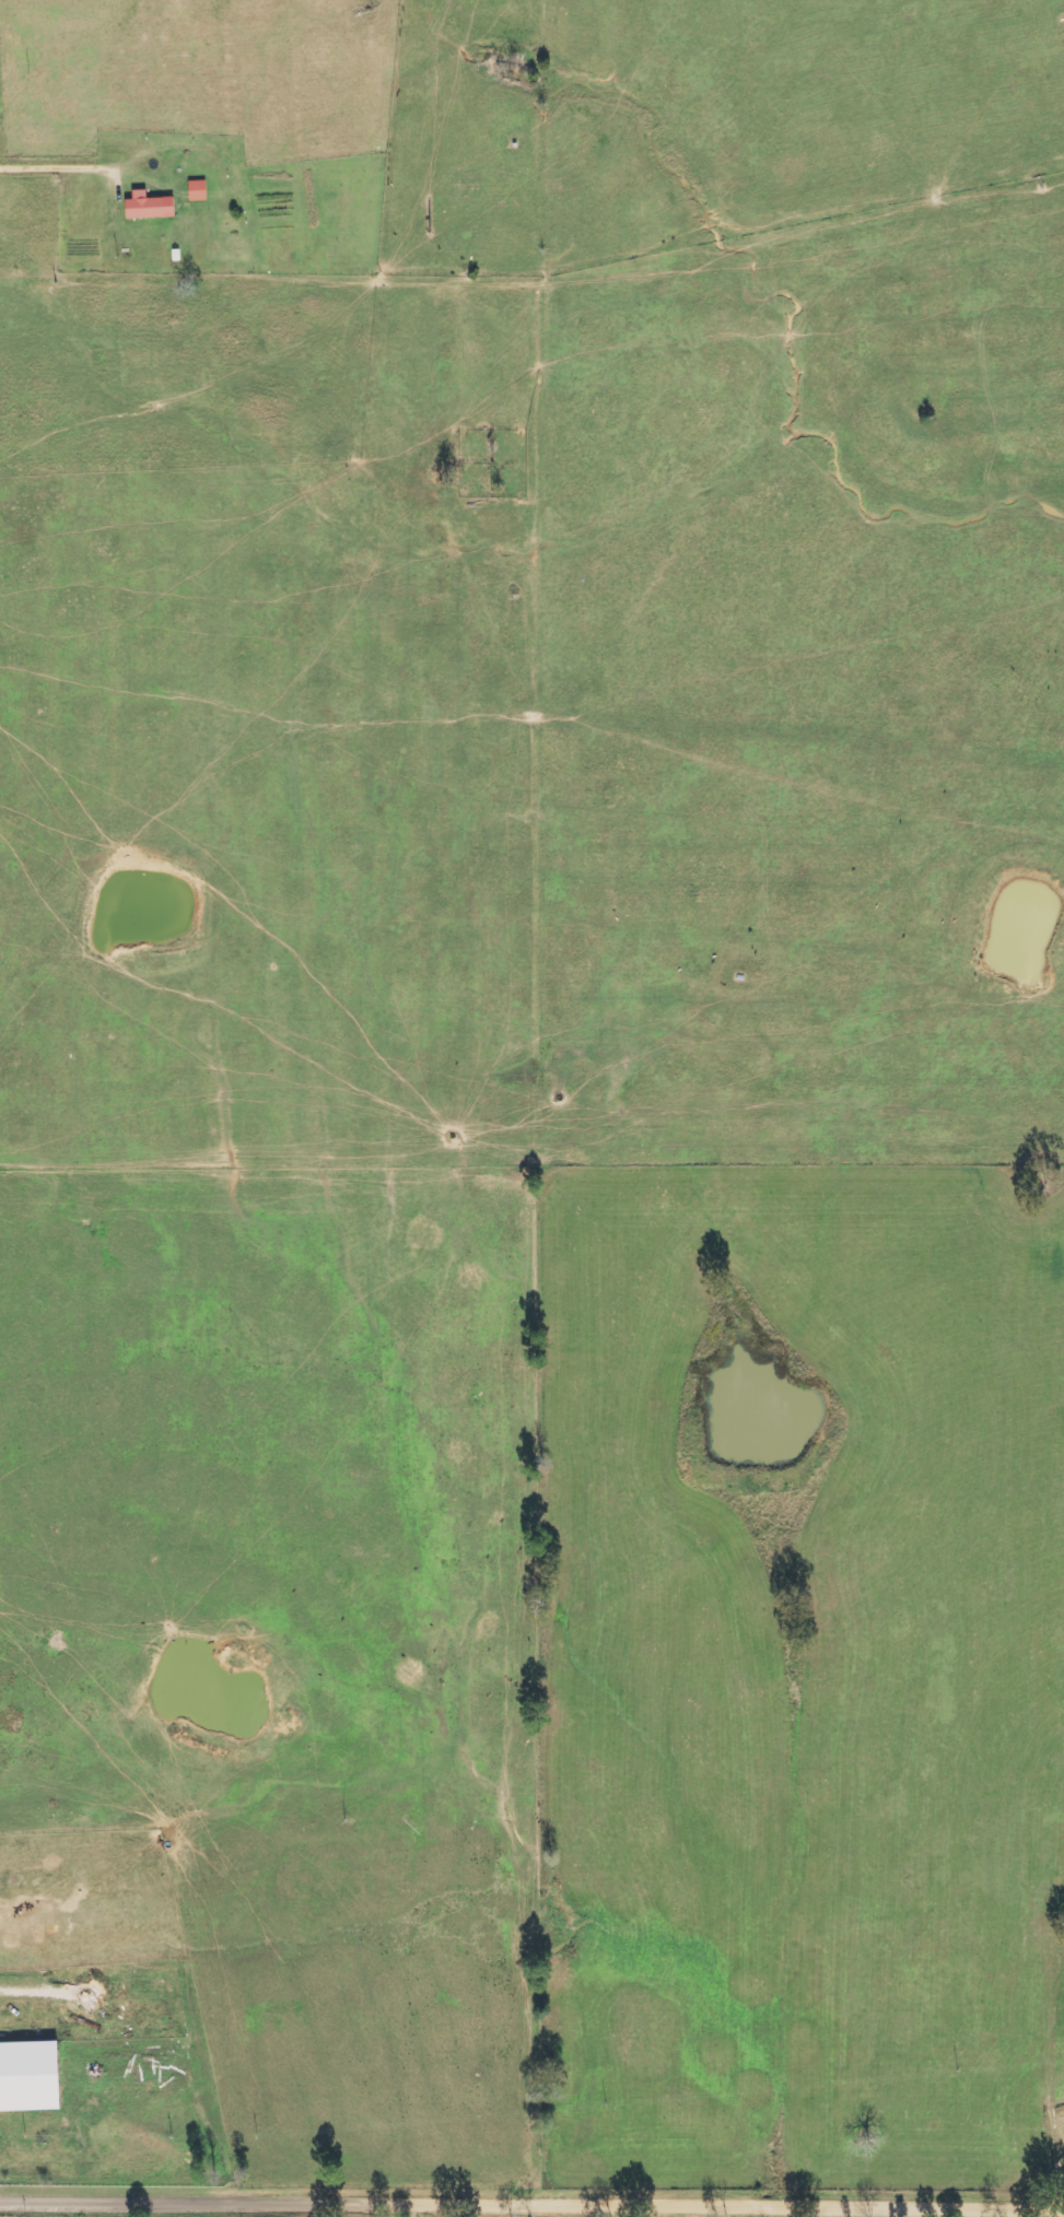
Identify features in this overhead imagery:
building: (197, 190)
building: (148, 207)
building: (28, 2076)
road: (531, 2206)

